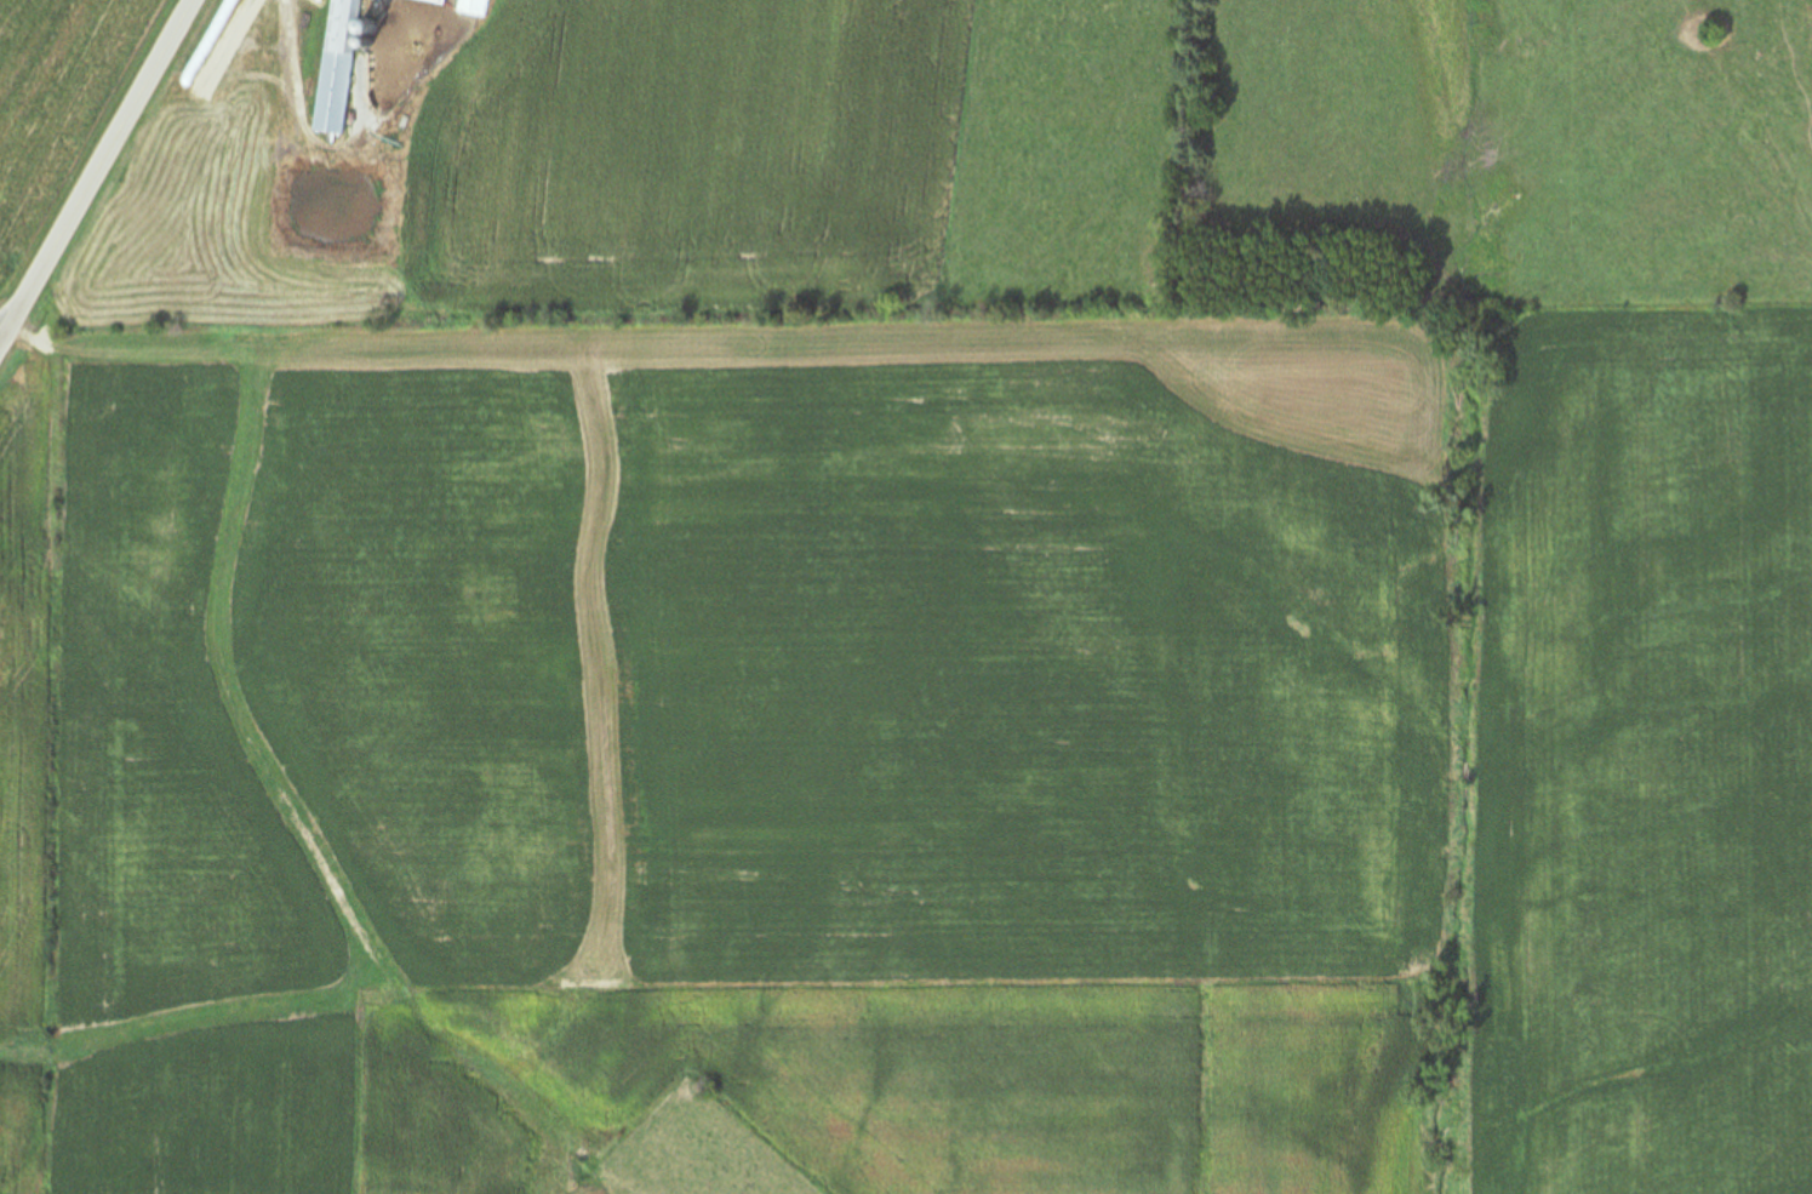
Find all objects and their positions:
building: (434, 1)
building: (474, 7)
building: (341, 61)
road: (96, 172)
road: (2, 336)

